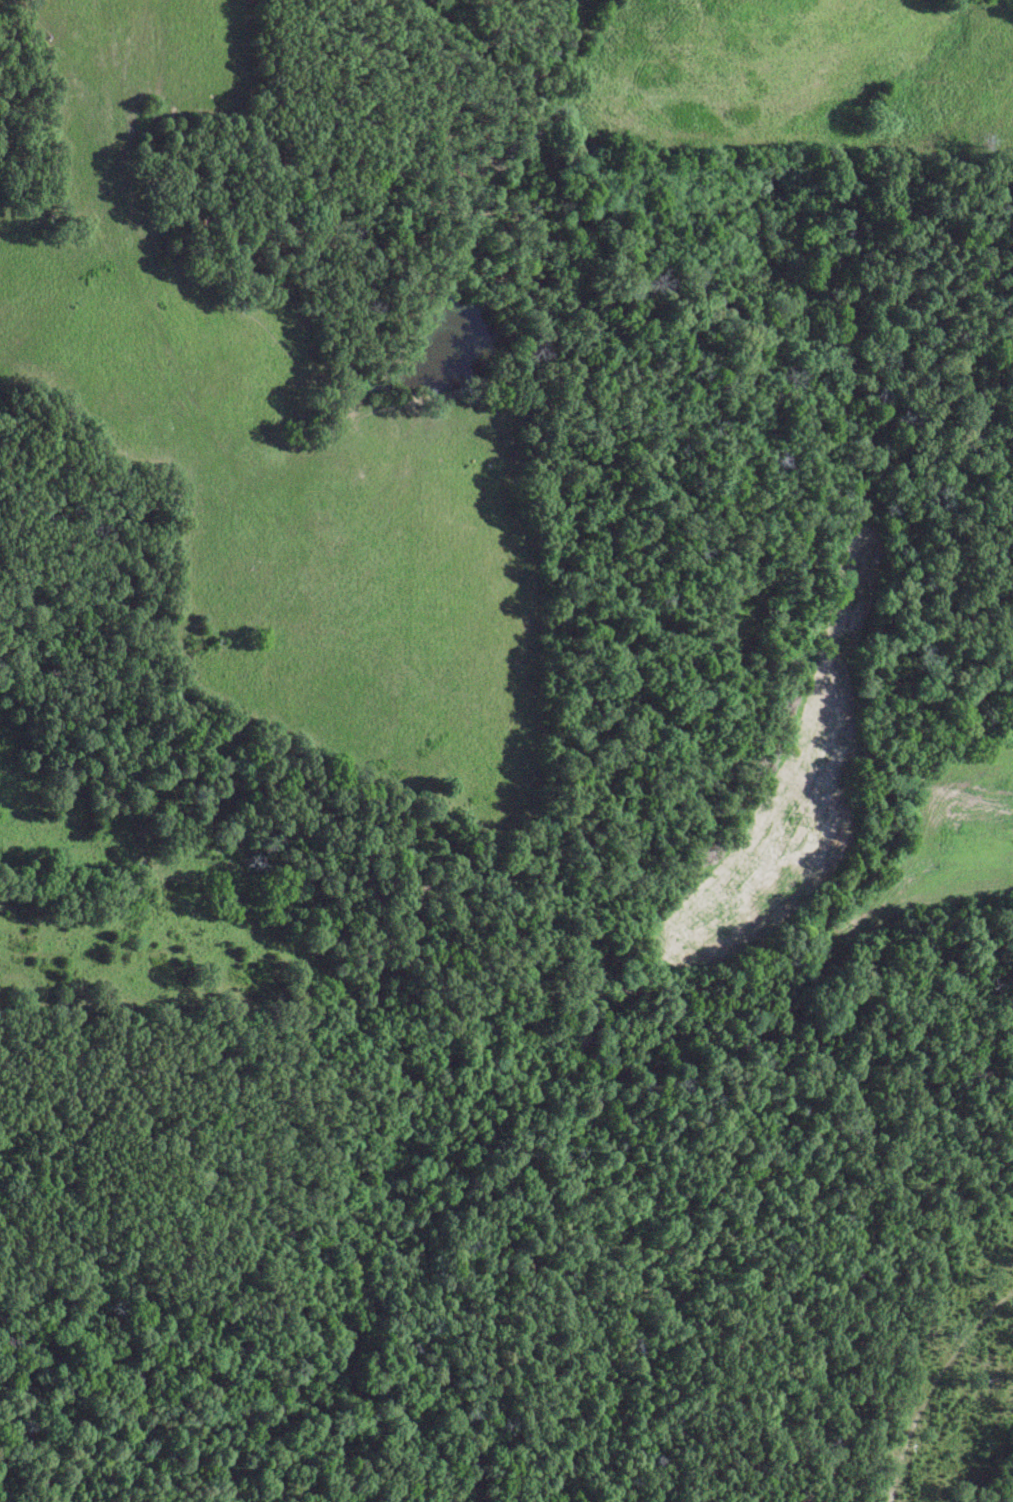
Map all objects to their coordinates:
road: (196, 1150)

